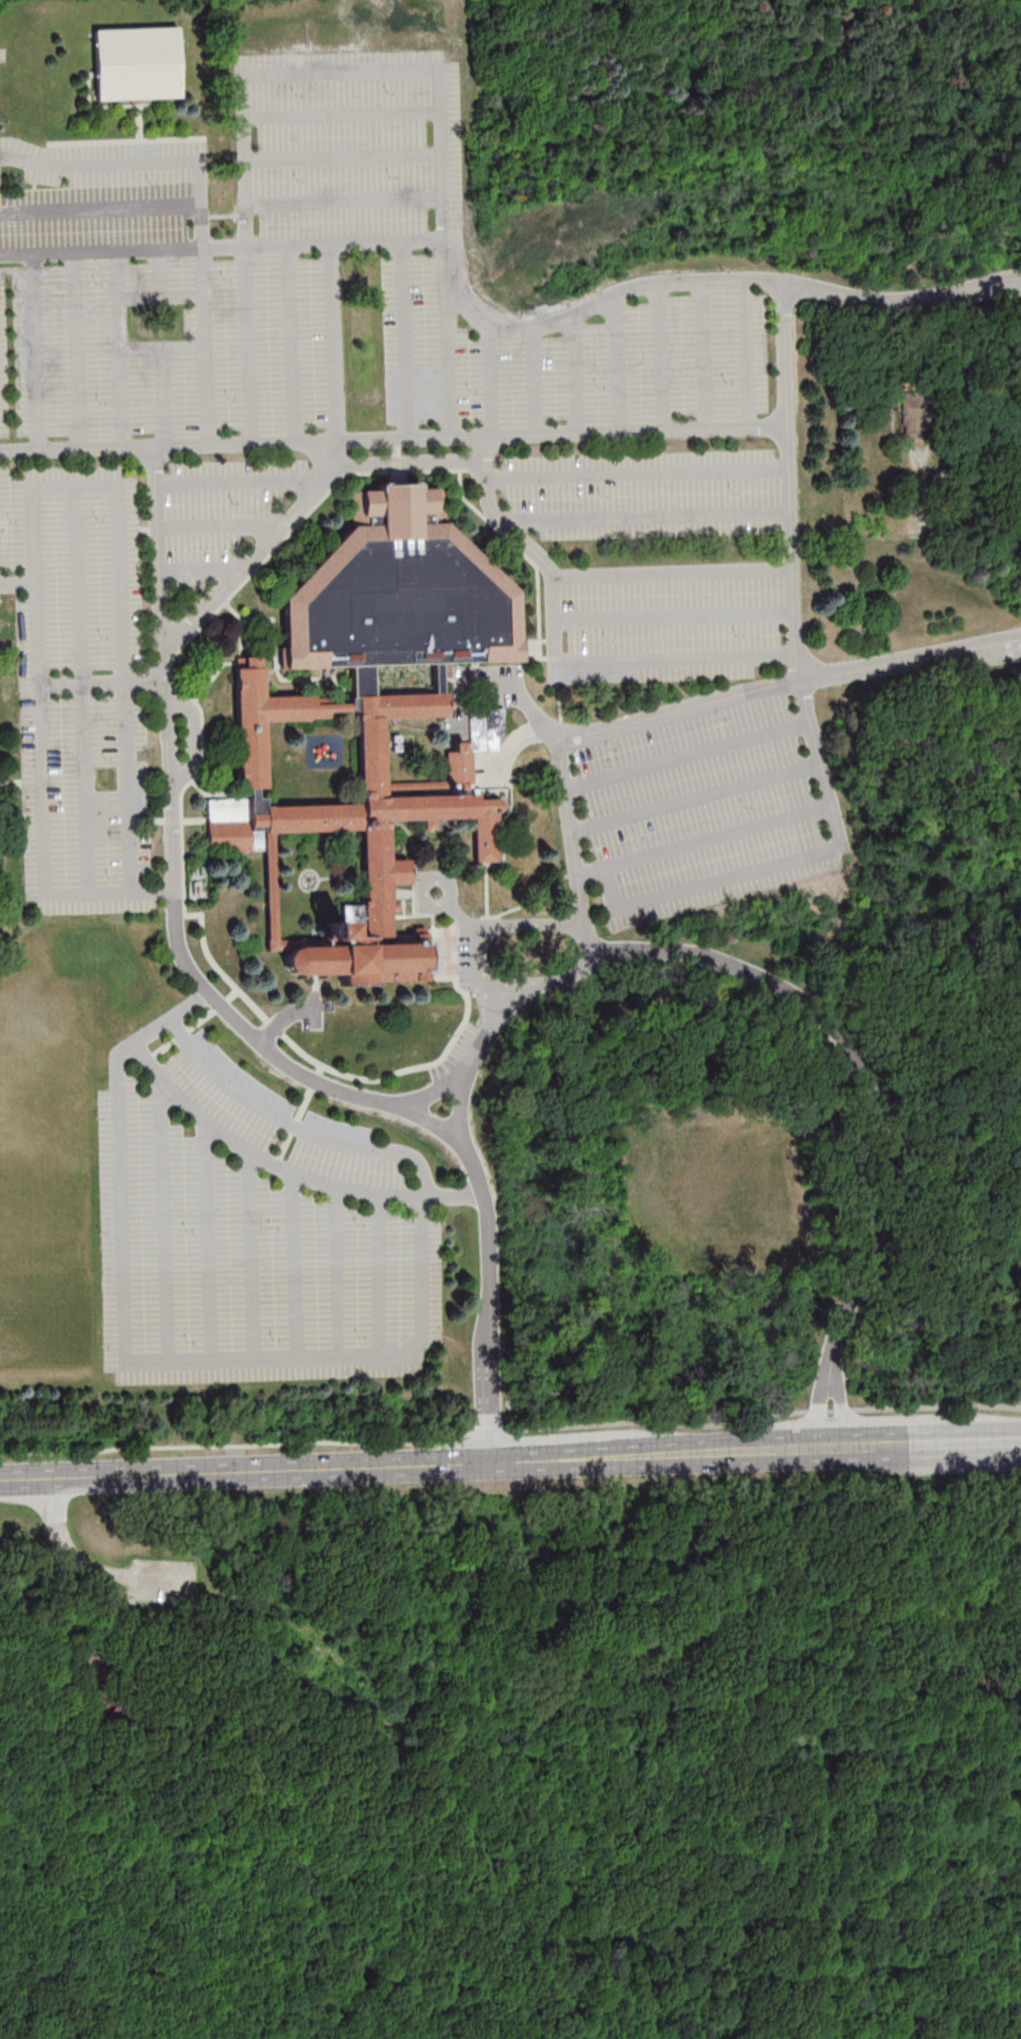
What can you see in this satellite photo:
building: (139, 66)
road: (342, 112)
road: (344, 159)
road: (144, 164)
road: (443, 175)
road: (346, 201)
road: (101, 205)
road: (223, 250)
road: (401, 342)
road: (333, 345)
road: (293, 346)
road: (250, 348)
road: (207, 349)
road: (121, 352)
road: (78, 353)
road: (33, 355)
road: (747, 357)
road: (704, 359)
road: (661, 361)
road: (452, 363)
road: (616, 368)
road: (784, 371)
road: (577, 377)
road: (491, 383)
road: (531, 386)
road: (163, 398)
road: (393, 442)
road: (321, 459)
road: (637, 471)
building: (992, 475)
road: (242, 477)
road: (116, 494)
road: (301, 509)
road: (648, 522)
road: (224, 523)
road: (935, 528)
road: (202, 570)
road: (672, 573)
road: (79, 585)
road: (674, 616)
road: (555, 659)
road: (102, 685)
road: (737, 697)
building: (375, 716)
road: (685, 754)
road: (43, 786)
road: (130, 789)
road: (88, 790)
road: (694, 798)
road: (570, 833)
road: (715, 836)
road: (774, 864)
road: (175, 874)
road: (447, 881)
road: (428, 907)
road: (464, 916)
road: (487, 928)
road: (576, 977)
road: (494, 980)
road: (433, 1093)
road: (874, 1106)
road: (297, 1126)
road: (256, 1154)
road: (656, 1204)
road: (487, 1215)
road: (164, 1220)
road: (207, 1240)
road: (249, 1254)
road: (294, 1266)
road: (336, 1272)
road: (379, 1276)
road: (172, 1361)
road: (763, 1417)
road: (981, 1442)
road: (470, 1463)
traffic signals: (496, 1463)
road: (89, 1569)
parking lot: (160, 1581)
road: (126, 1607)
road: (92, 1637)
road: (183, 1649)
road: (128, 1662)
road: (220, 1669)
road: (380, 1670)
road: (358, 1713)
road: (114, 1728)
road: (41, 1732)
road: (518, 1756)
road: (80, 1830)
road: (350, 1881)
road: (447, 1884)
road: (706, 1901)
road: (514, 1944)
road: (539, 1984)
road: (371, 1996)

